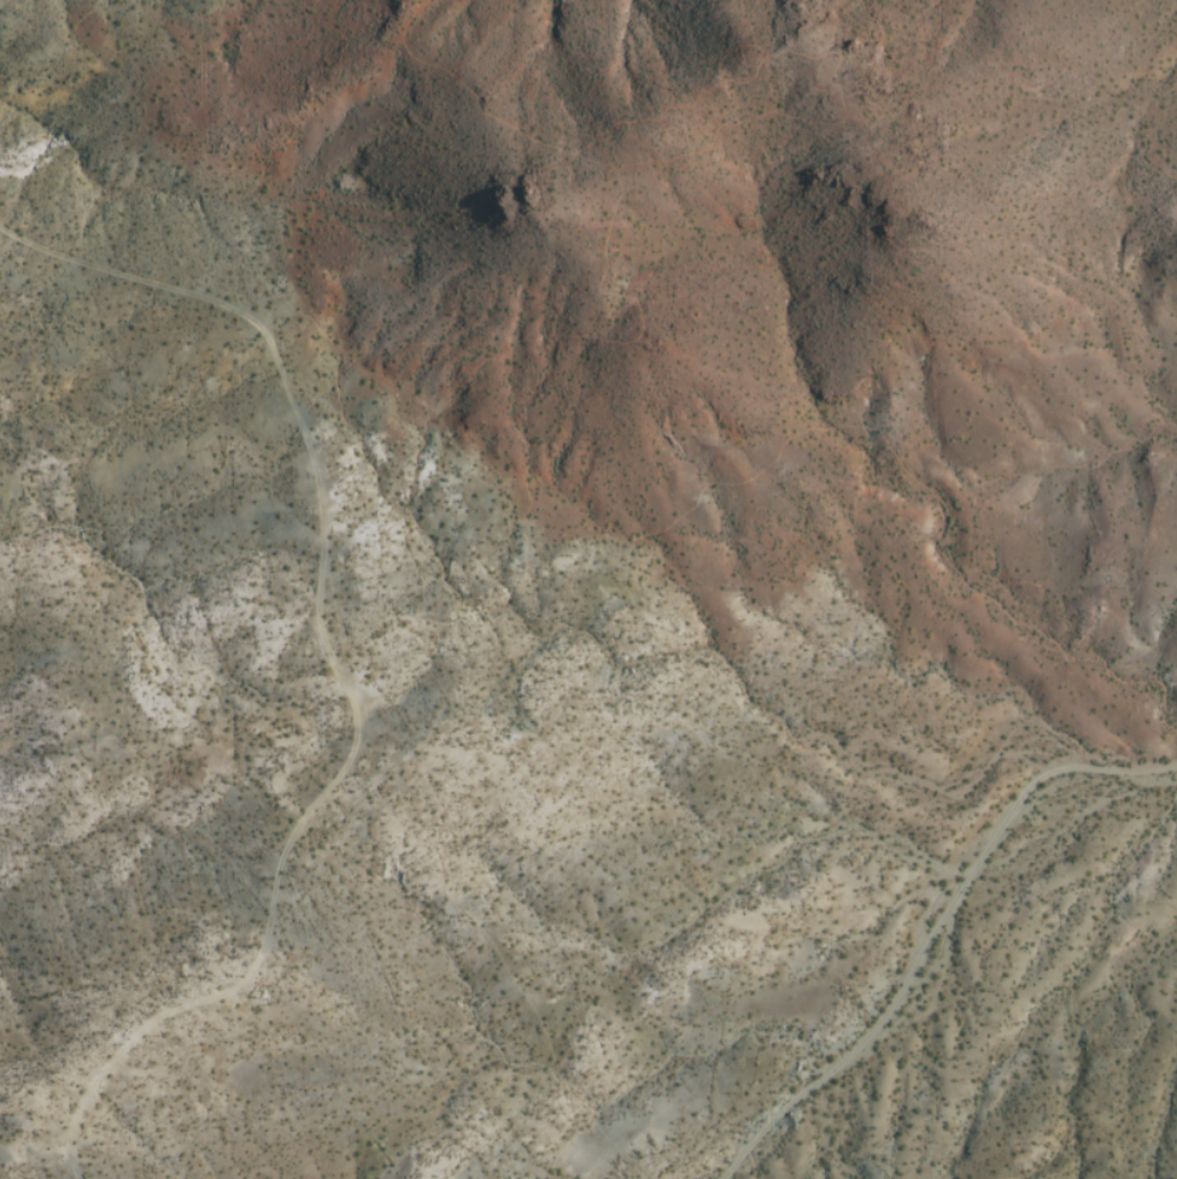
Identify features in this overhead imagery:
road: (942, 940)

